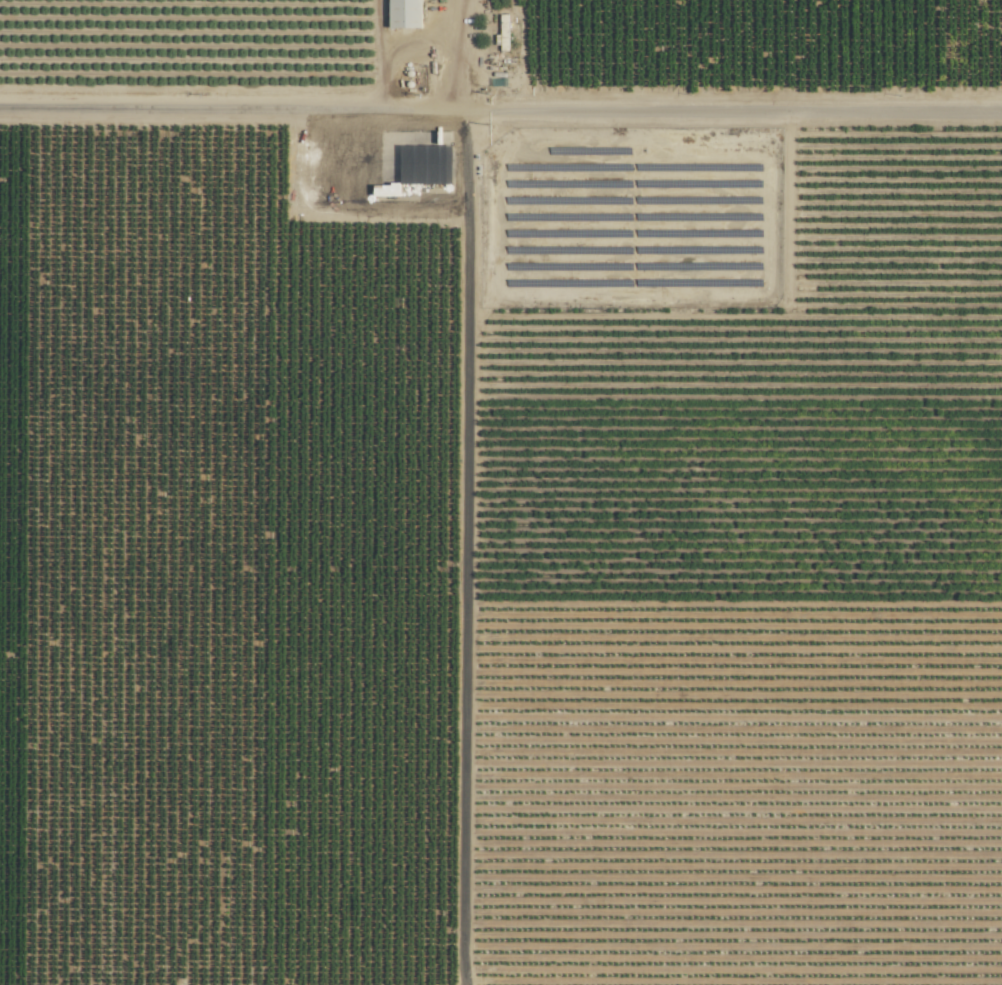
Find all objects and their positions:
road: (409, 61)
road: (501, 122)
crop: (501, 492)

